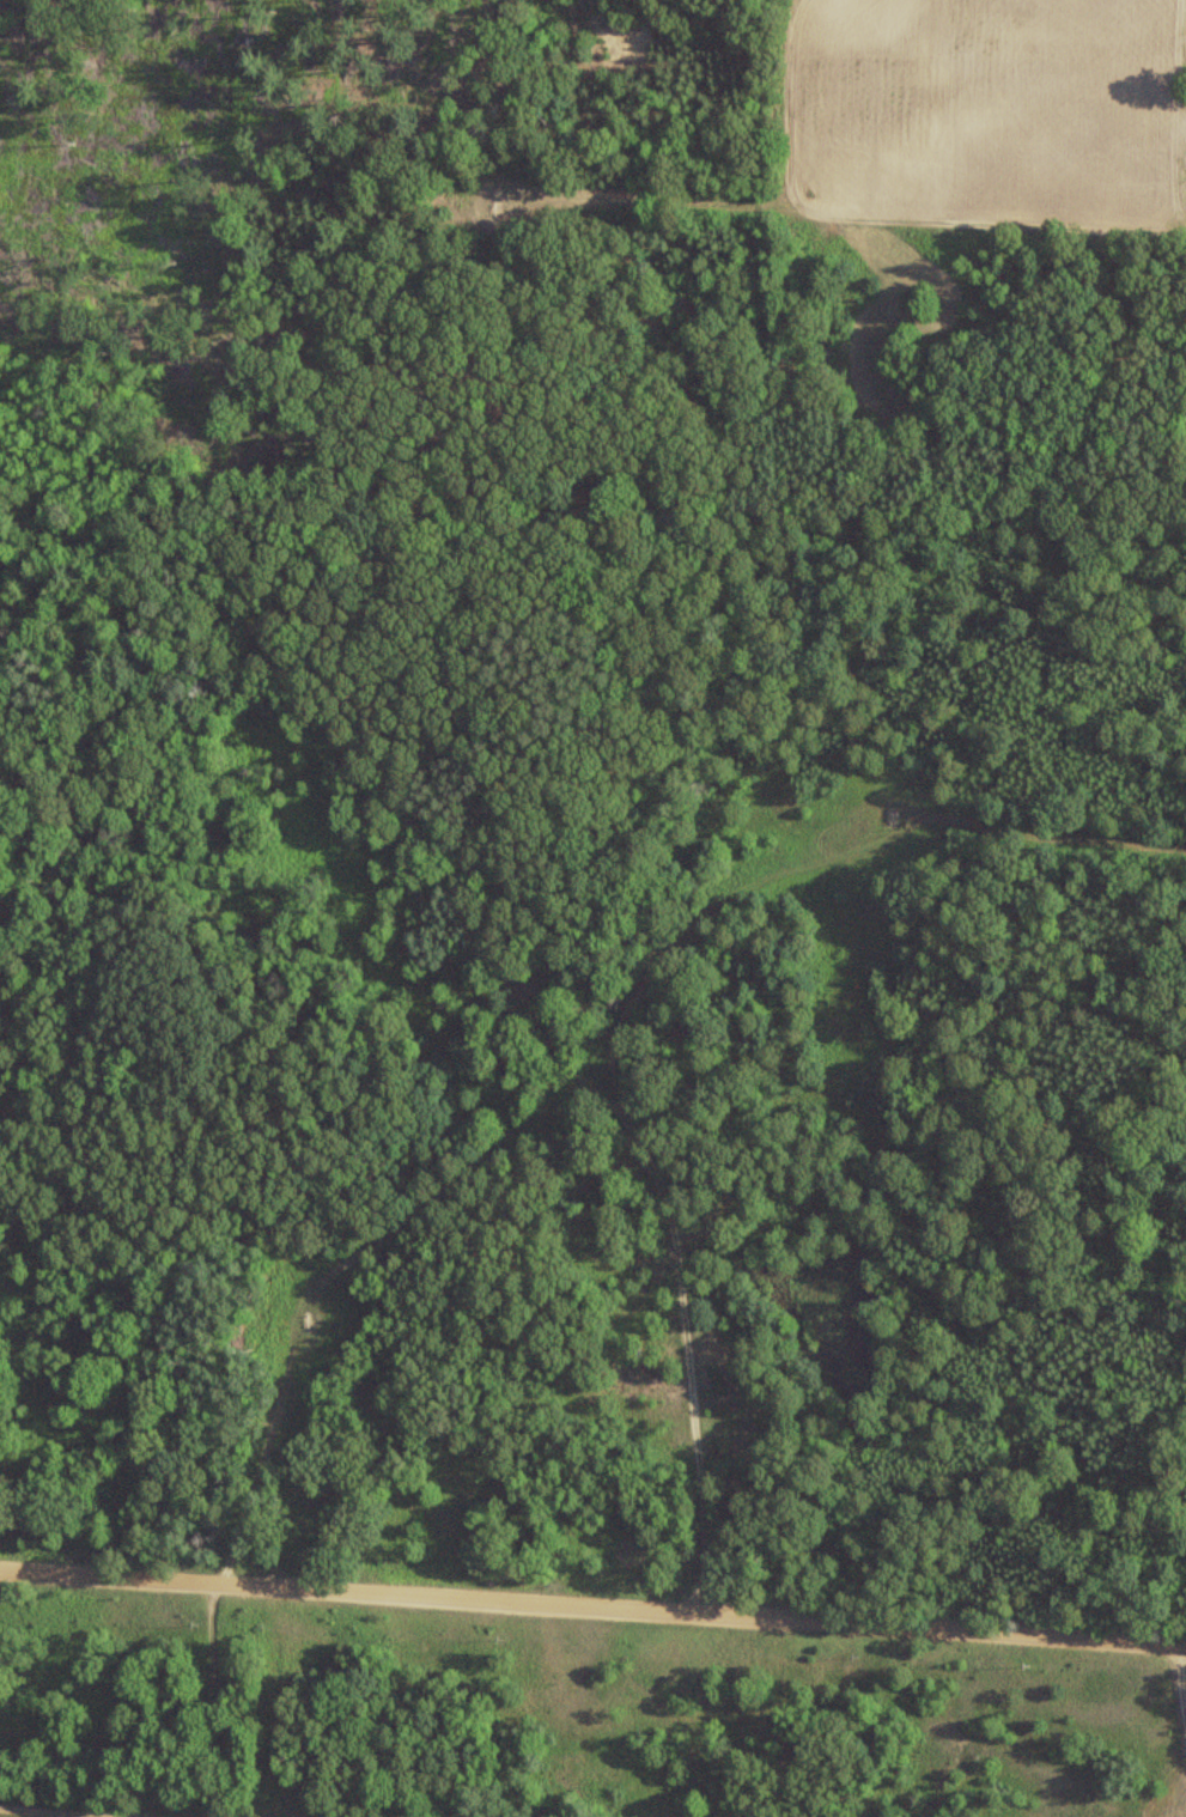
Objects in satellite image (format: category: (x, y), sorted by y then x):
road: (381, 315)
road: (695, 961)
road: (336, 1296)
road: (704, 1337)
road: (592, 1606)
road: (202, 1701)

